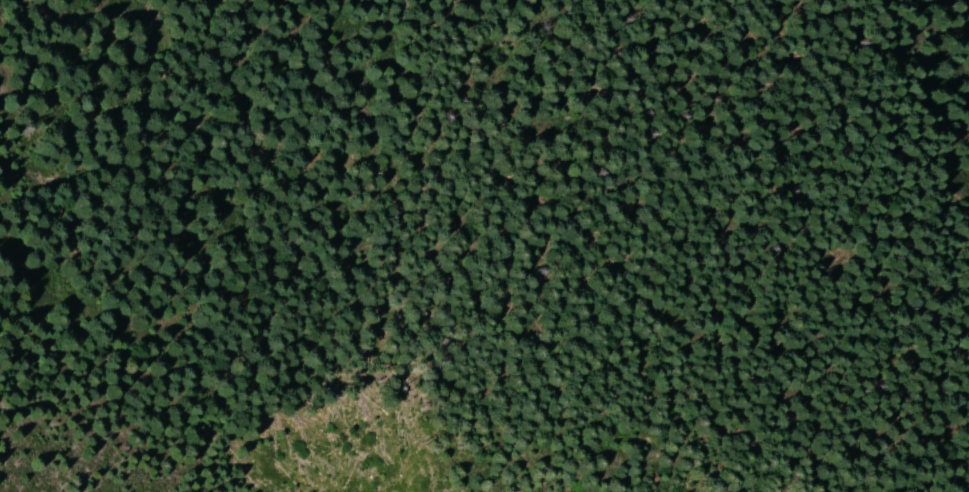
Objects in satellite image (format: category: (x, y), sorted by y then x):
road: (142, 343)

